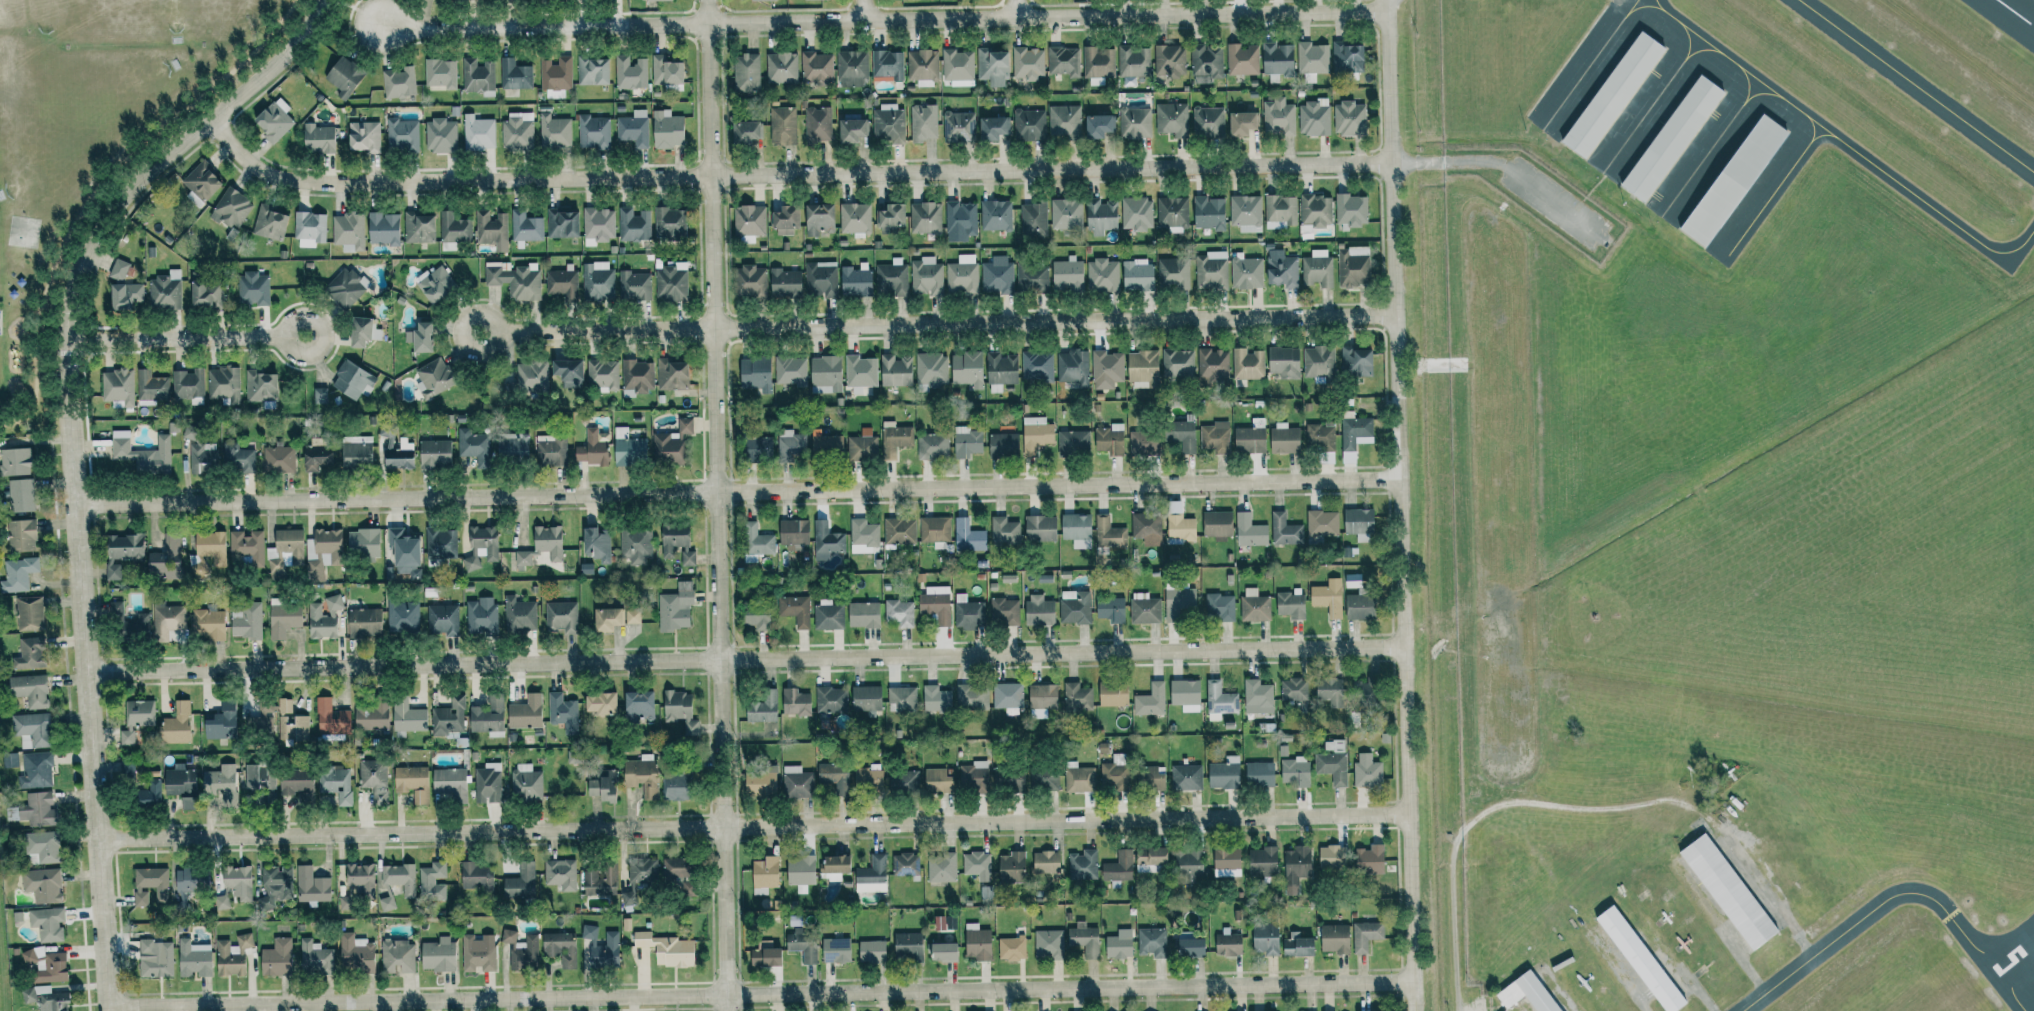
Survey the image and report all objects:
building: (448, 0)
building: (655, 0)
building: (759, 0)
road: (1633, 1)
road: (1392, 5)
airport taxiway: (1646, 8)
road: (1015, 9)
road: (861, 10)
road: (356, 11)
airport runway: (2015, 13)
airport taxiway: (2018, 15)
road: (1047, 17)
airport runway: (1997, 26)
road: (543, 27)
airport taxiway: (1700, 50)
building: (1347, 57)
building: (1242, 60)
building: (1277, 60)
building: (1312, 60)
building: (1063, 61)
building: (1170, 61)
building: (1098, 62)
building: (1028, 63)
building: (1133, 63)
building: (1206, 63)
building: (887, 64)
airport taxiway: (1590, 64)
building: (781, 67)
building: (816, 67)
building: (922, 67)
building: (957, 67)
building: (992, 67)
building: (851, 68)
building: (591, 71)
building: (665, 71)
building: (440, 73)
building: (555, 73)
building: (630, 73)
building: (746, 73)
building: (477, 75)
building: (514, 75)
building: (344, 76)
building: (399, 82)
airport taxiway: (1916, 86)
airport taxiway: (1758, 93)
building: (1613, 95)
airport taxiway: (1654, 100)
building: (1278, 117)
building: (1314, 117)
building: (1171, 118)
building: (1349, 118)
building: (273, 120)
building: (1064, 120)
building: (1208, 121)
building: (923, 122)
building: (1135, 122)
building: (888, 124)
building: (1241, 124)
building: (818, 125)
building: (1029, 125)
building: (782, 126)
building: (1098, 126)
building: (958, 127)
building: (993, 128)
building: (633, 129)
building: (666, 129)
building: (851, 130)
building: (517, 131)
building: (553, 131)
building: (593, 132)
building: (744, 132)
building: (478, 133)
building: (402, 135)
airport taxiway: (1819, 135)
building: (363, 136)
building: (440, 136)
airport apron: (1627, 137)
building: (317, 139)
building: (1672, 140)
park: (95, 141)
airport taxiway: (1843, 142)
airport taxiway: (1713, 143)
road: (1449, 162)
road: (786, 176)
building: (1733, 181)
building: (200, 184)
airport taxiway: (1773, 187)
road: (99, 188)
parking lot: (1558, 204)
building: (231, 208)
building: (1281, 209)
building: (1351, 210)
building: (1172, 211)
building: (1315, 211)
building: (1136, 213)
building: (1208, 213)
building: (1246, 213)
building: (1066, 214)
building: (995, 215)
building: (891, 216)
building: (1101, 216)
building: (855, 218)
building: (925, 218)
building: (1033, 218)
building: (818, 219)
building: (749, 220)
building: (960, 220)
building: (785, 221)
building: (669, 222)
building: (269, 223)
building: (561, 223)
building: (598, 224)
building: (633, 225)
building: (525, 226)
building: (418, 227)
building: (382, 228)
building: (453, 228)
building: (309, 229)
building: (491, 229)
building: (348, 231)
park: (23, 232)
building: (1353, 266)
building: (1317, 269)
building: (118, 270)
building: (1282, 270)
building: (1211, 271)
building: (1174, 272)
building: (1246, 272)
building: (1067, 274)
building: (962, 275)
building: (997, 275)
building: (1102, 275)
building: (1136, 275)
building: (891, 277)
building: (926, 277)
building: (514, 279)
building: (820, 279)
building: (1032, 279)
building: (855, 280)
building: (597, 281)
building: (749, 281)
building: (671, 283)
building: (784, 283)
building: (435, 285)
building: (634, 286)
building: (344, 287)
building: (252, 289)
building: (165, 291)
building: (206, 294)
building: (125, 296)
road: (1055, 325)
road: (608, 330)
road: (325, 332)
building: (362, 332)
road: (460, 334)
road: (176, 337)
building: (419, 338)
road: (51, 352)
building: (1283, 362)
building: (1318, 362)
building: (1355, 362)
building: (1177, 363)
building: (1248, 364)
building: (1037, 366)
building: (1142, 366)
building: (1212, 366)
building: (1073, 368)
building: (931, 369)
building: (966, 369)
building: (1106, 369)
building: (790, 371)
building: (895, 371)
building: (1000, 371)
building: (860, 372)
building: (567, 373)
building: (755, 374)
building: (671, 375)
building: (825, 375)
building: (603, 376)
building: (637, 376)
building: (531, 377)
building: (433, 378)
building: (353, 381)
building: (187, 384)
building: (223, 384)
building: (151, 386)
building: (259, 386)
building: (117, 388)
building: (320, 397)
building: (1354, 432)
building: (1035, 434)
building: (1183, 435)
building: (1320, 436)
building: (1215, 437)
building: (1250, 437)
building: (897, 438)
building: (1110, 439)
building: (1284, 439)
building: (966, 441)
building: (1073, 441)
building: (471, 443)
building: (1144, 443)
building: (671, 444)
building: (1003, 444)
building: (792, 446)
building: (932, 446)
building: (512, 447)
building: (862, 447)
building: (590, 449)
building: (756, 449)
building: (550, 450)
building: (628, 450)
building: (142, 453)
building: (434, 454)
road: (73, 455)
building: (399, 456)
building: (237, 457)
building: (201, 459)
building: (278, 459)
building: (316, 459)
building: (14, 462)
road: (739, 493)
building: (21, 496)
airport: (1743, 501)
road: (719, 505)
road: (1399, 505)
building: (1322, 523)
building: (1217, 524)
building: (1359, 524)
building: (1180, 528)
building: (934, 529)
building: (1040, 529)
building: (1147, 529)
building: (1076, 530)
building: (899, 531)
building: (1004, 531)
building: (1249, 531)
building: (1285, 531)
building: (1109, 533)
building: (20, 535)
building: (793, 535)
building: (863, 536)
building: (968, 537)
building: (826, 541)
building: (547, 542)
building: (362, 543)
building: (676, 543)
building: (755, 543)
building: (440, 544)
building: (596, 545)
building: (210, 547)
building: (247, 547)
building: (479, 547)
building: (636, 547)
building: (942, 547)
building: (285, 549)
building: (324, 553)
building: (122, 554)
building: (165, 559)
building: (522, 559)
building: (585, 569)
building: (18, 574)
building: (1328, 597)
building: (1180, 602)
building: (333, 603)
building: (936, 603)
building: (1290, 604)
building: (1074, 606)
building: (1220, 606)
building: (1254, 606)
building: (675, 607)
building: (1360, 607)
building: (1144, 608)
building: (795, 609)
building: (1110, 609)
building: (1039, 610)
building: (1004, 611)
building: (900, 612)
building: (969, 612)
building: (29, 613)
building: (518, 614)
building: (828, 614)
building: (863, 614)
building: (480, 615)
building: (632, 615)
building: (402, 616)
building: (561, 616)
building: (282, 617)
building: (755, 617)
building: (607, 618)
building: (442, 619)
building: (166, 620)
building: (246, 620)
building: (364, 621)
building: (207, 622)
building: (320, 622)
building: (127, 624)
building: (29, 653)
road: (745, 662)
building: (1293, 688)
building: (29, 689)
building: (1363, 690)
building: (1330, 691)
building: (1113, 693)
building: (1185, 694)
building: (1007, 695)
building: (972, 696)
building: (1077, 696)
building: (1042, 697)
building: (1257, 697)
building: (831, 699)
building: (901, 699)
building: (936, 699)
building: (867, 700)
building: (1150, 700)
building: (1219, 700)
building: (794, 701)
building: (600, 703)
building: (637, 706)
building: (762, 707)
building: (679, 710)
building: (526, 712)
building: (563, 712)
building: (370, 716)
building: (488, 716)
building: (406, 717)
building: (331, 718)
building: (448, 718)
building: (137, 721)
building: (262, 721)
building: (221, 722)
building: (290, 722)
building: (825, 722)
building: (176, 724)
building: (31, 729)
building: (1334, 746)
building: (1104, 753)
building: (10, 759)
building: (1332, 767)
building: (130, 769)
building: (35, 770)
building: (1295, 771)
building: (1115, 772)
building: (1224, 773)
building: (1367, 773)
building: (1259, 774)
building: (973, 775)
building: (641, 776)
building: (851, 776)
building: (259, 777)
building: (1152, 777)
building: (1186, 777)
building: (374, 778)
building: (1008, 778)
building: (1043, 778)
building: (1079, 778)
building: (938, 779)
building: (903, 780)
building: (295, 781)
building: (759, 781)
building: (796, 781)
building: (336, 782)
building: (412, 782)
building: (450, 782)
building: (487, 783)
building: (526, 783)
building: (180, 784)
building: (217, 784)
building: (602, 785)
building: (676, 786)
building: (148, 794)
road: (1498, 807)
building: (37, 808)
road: (753, 828)
building: (41, 847)
building: (1151, 855)
building: (1331, 856)
building: (1370, 859)
building: (1188, 860)
building: (1263, 860)
building: (1226, 861)
building: (1046, 862)
building: (905, 863)
building: (976, 863)
building: (1083, 865)
building: (834, 866)
building: (941, 867)
building: (1012, 867)
building: (1296, 867)
building: (1119, 869)
building: (677, 871)
building: (800, 871)
building: (642, 872)
building: (765, 872)
building: (561, 874)
building: (476, 875)
building: (871, 875)
building: (400, 877)
building: (361, 878)
building: (191, 879)
building: (600, 880)
building: (432, 881)
building: (520, 883)
building: (41, 884)
building: (150, 884)
building: (275, 886)
building: (311, 886)
building: (1730, 894)
airport taxiway: (1889, 897)
building: (629, 898)
building: (221, 902)
building: (47, 923)
building: (588, 931)
building: (1366, 935)
building: (1084, 938)
building: (1265, 938)
building: (1334, 938)
building: (1152, 941)
building: (977, 942)
building: (1049, 943)
building: (1119, 944)
building: (1189, 944)
building: (1227, 944)
building: (802, 945)
building: (1297, 945)
building: (907, 946)
building: (559, 947)
building: (1011, 948)
building: (666, 949)
building: (521, 950)
building: (835, 950)
building: (871, 951)
building: (943, 951)
building: (604, 952)
building: (356, 954)
building: (437, 954)
building: (476, 954)
building: (764, 954)
building: (232, 955)
building: (398, 956)
building: (315, 957)
building: (155, 958)
building: (193, 958)
building: (277, 958)
airport runway: (2010, 960)
building: (1641, 961)
building: (45, 964)
airport runway: (1975, 966)
building: (1537, 993)
road: (760, 994)
building: (45, 997)

